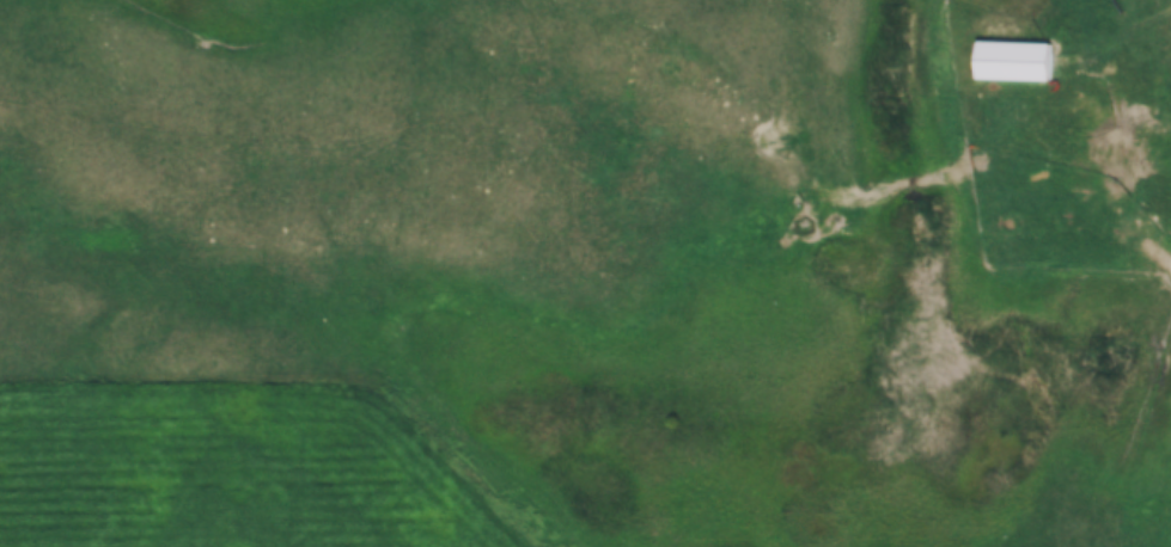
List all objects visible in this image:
building: (1018, 62)

